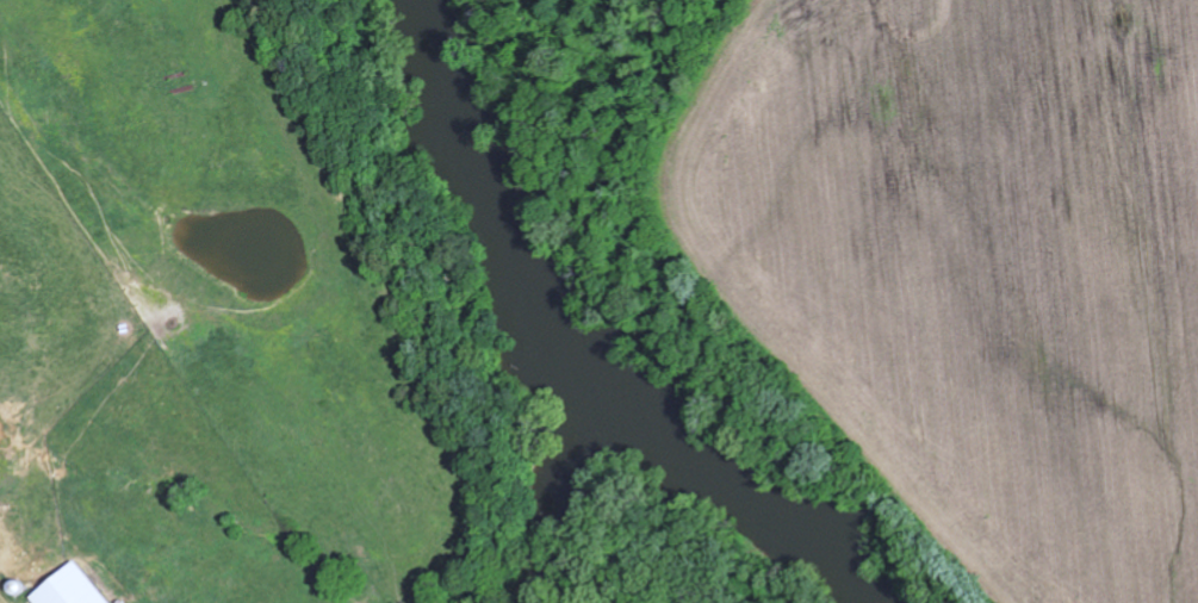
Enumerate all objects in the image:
river: (528, 362)
building: (66, 588)

